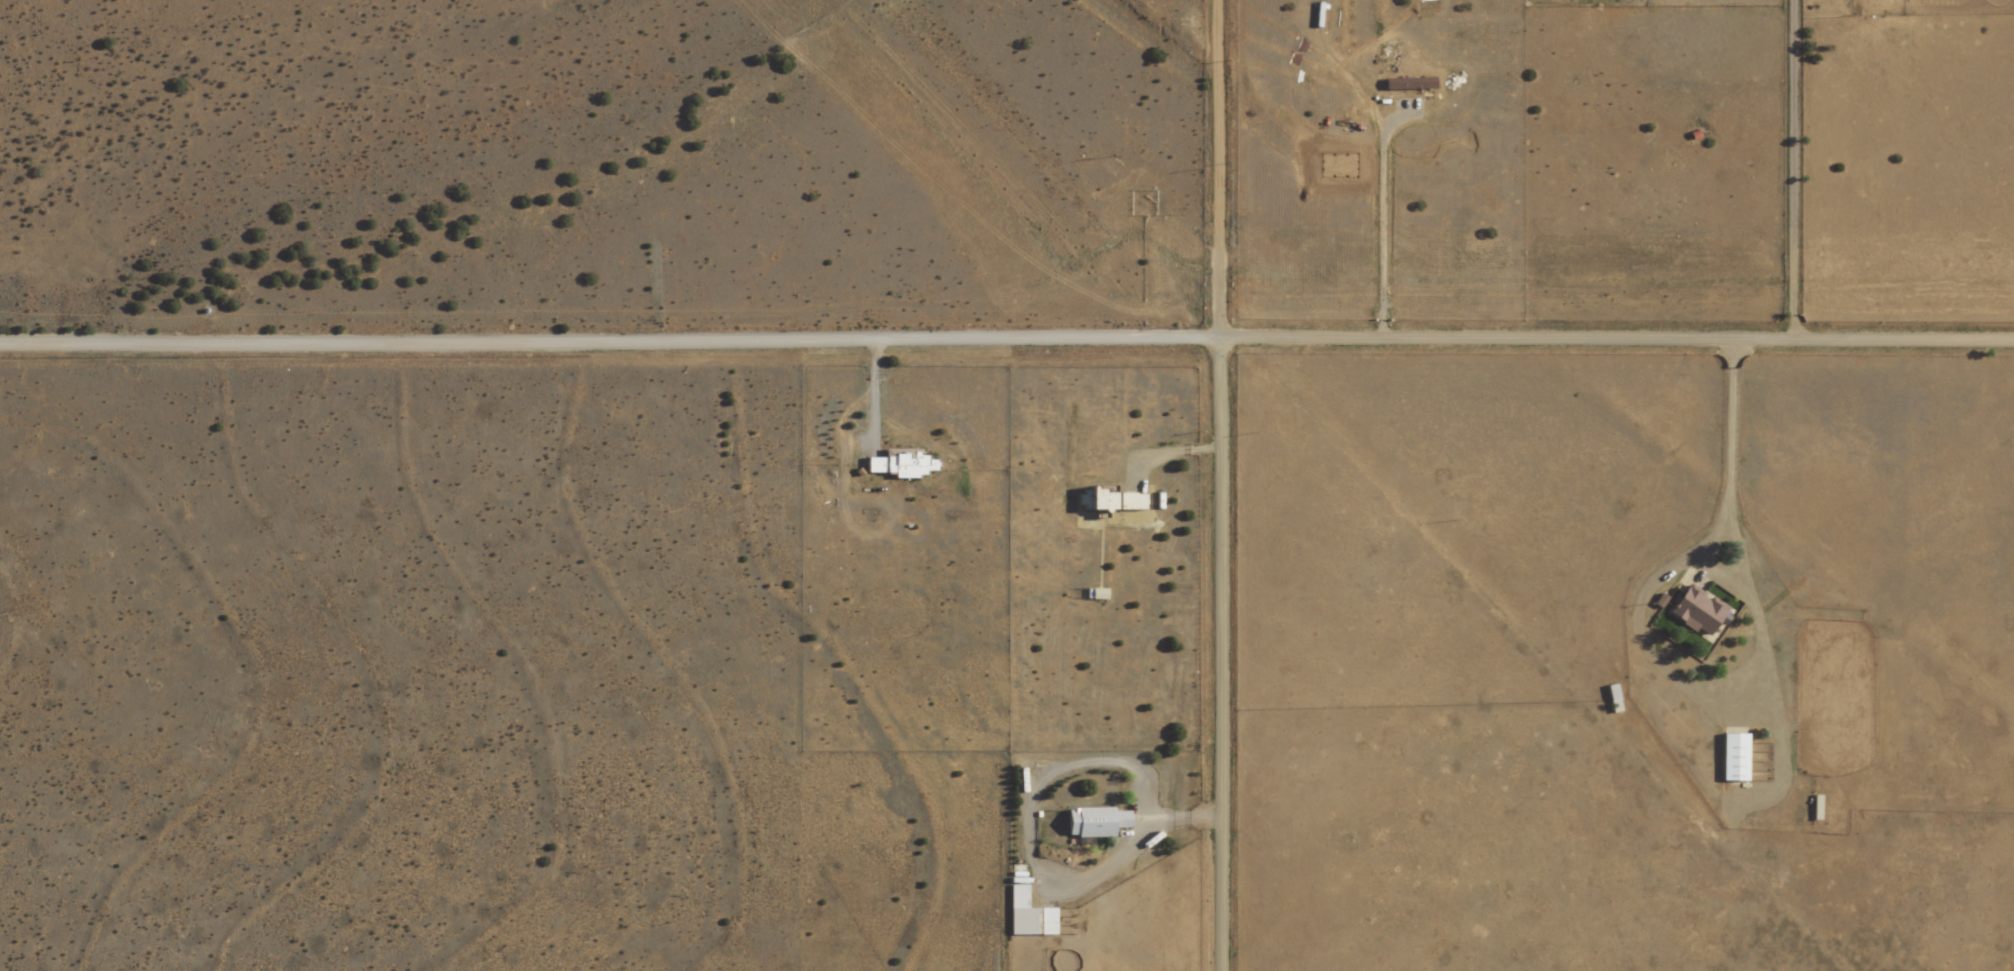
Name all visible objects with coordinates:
road: (1006, 341)
building: (900, 465)
road: (1220, 485)
building: (1097, 501)
building: (1130, 503)
building: (1097, 596)
building: (1698, 613)
building: (1612, 701)
building: (1734, 759)
building: (1094, 822)
building: (1032, 922)

